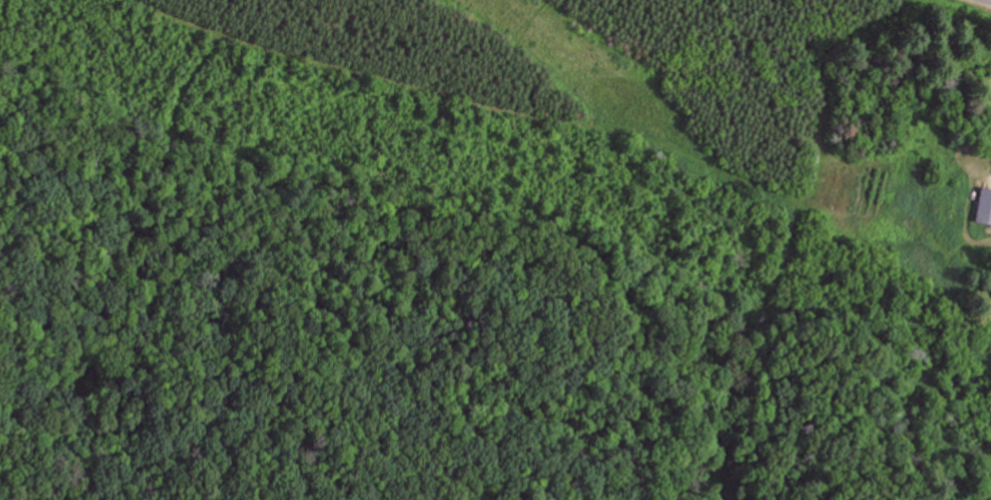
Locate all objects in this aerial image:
building: (984, 206)

